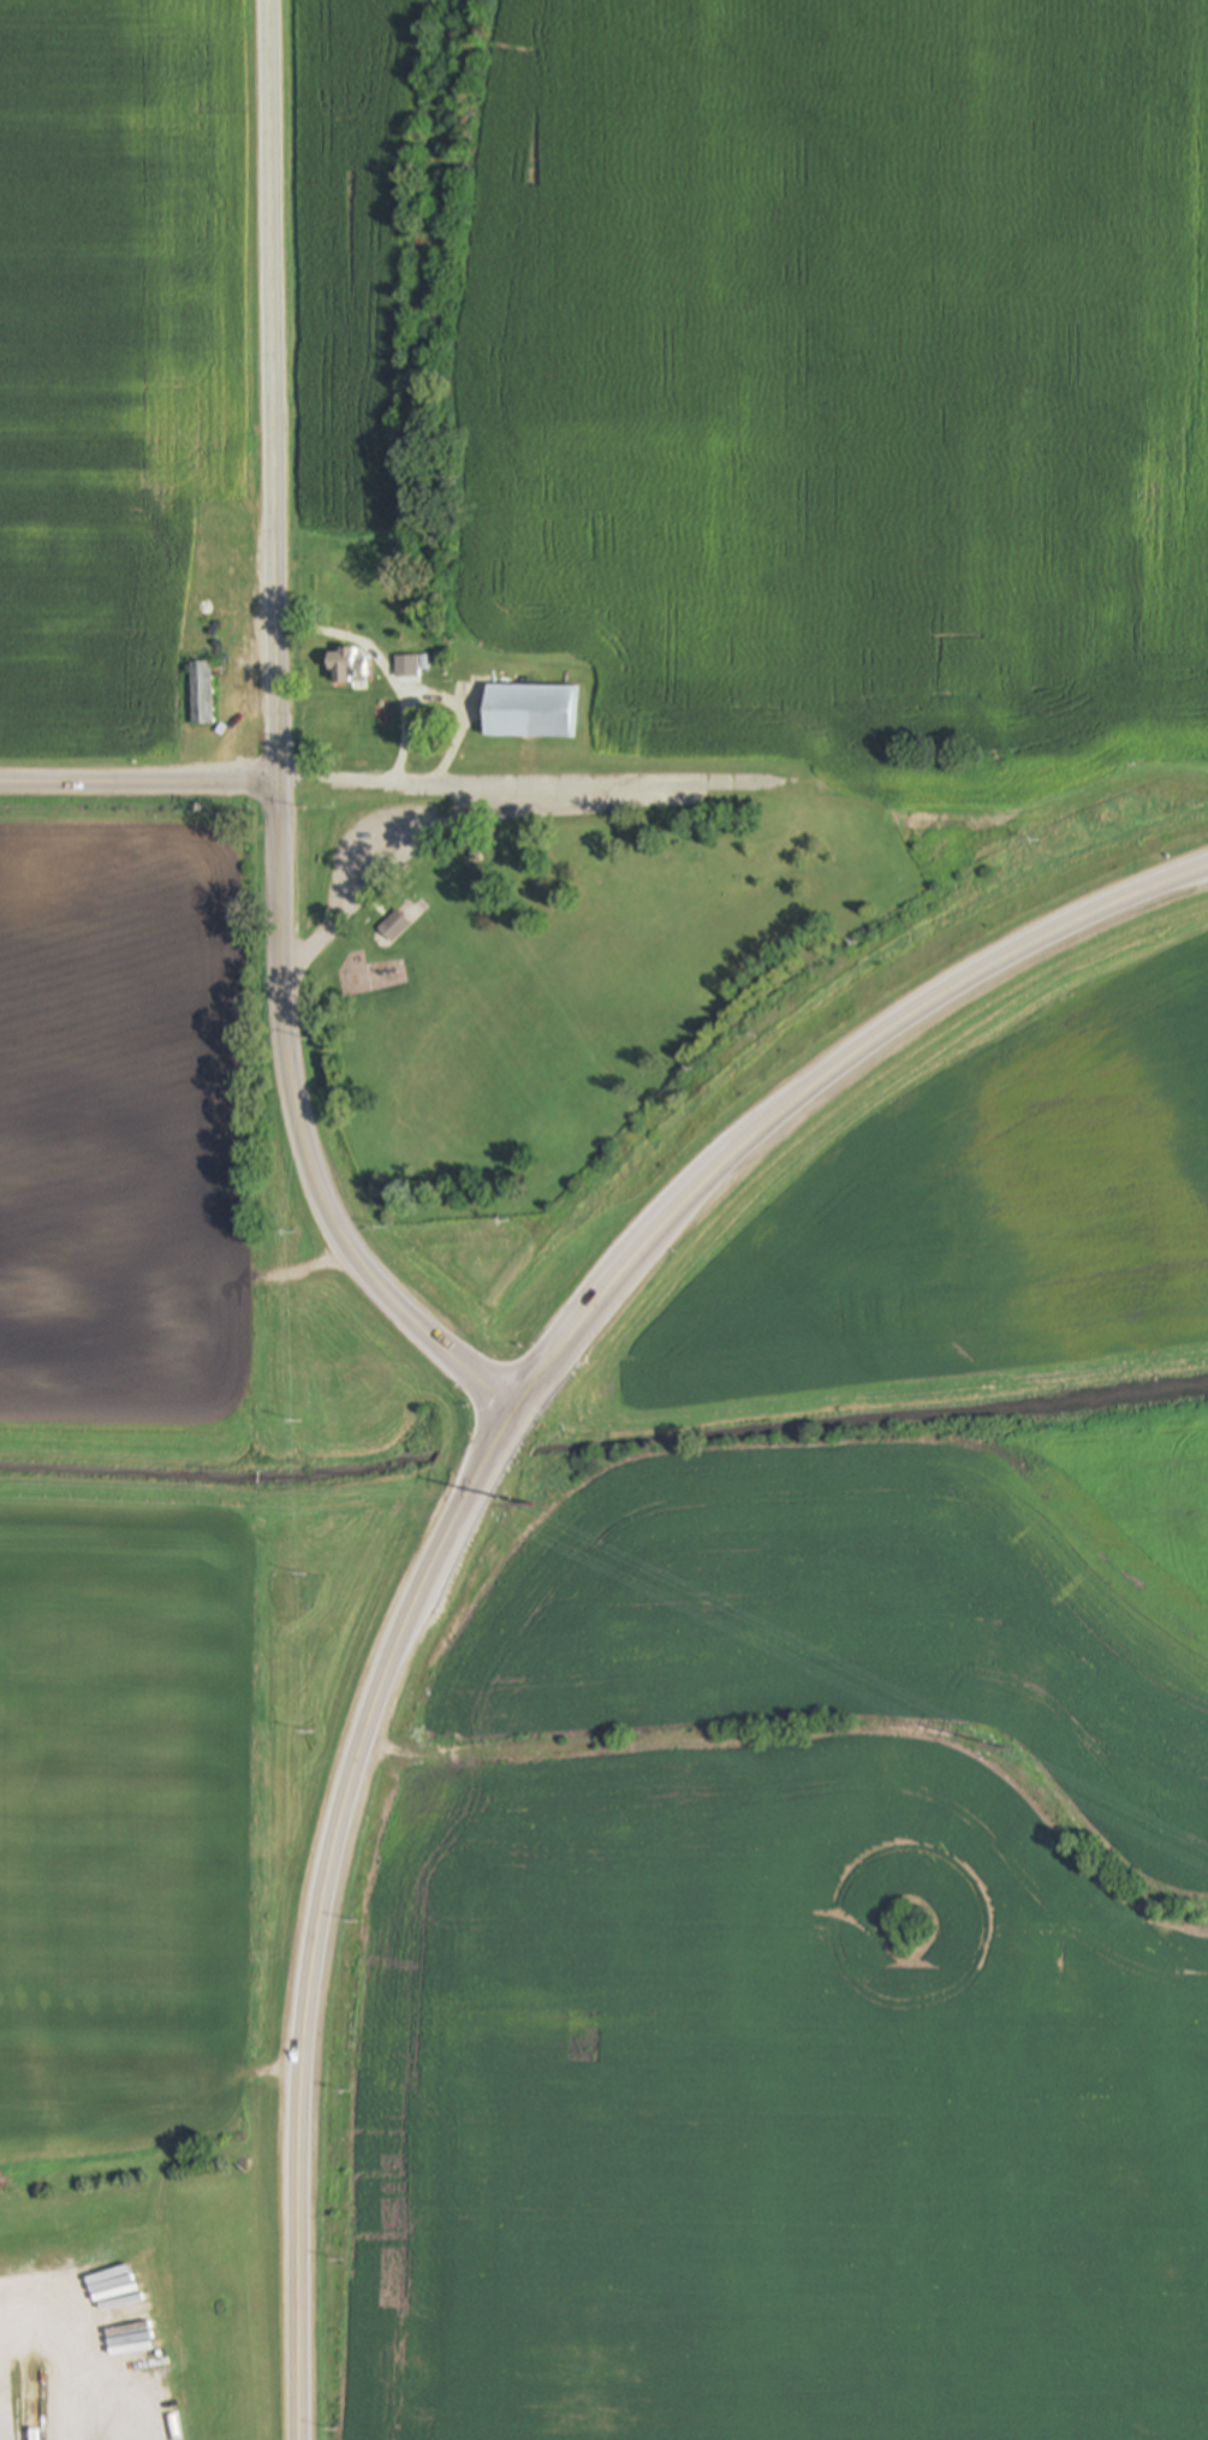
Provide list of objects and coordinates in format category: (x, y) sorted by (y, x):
building: (347, 666)
building: (406, 667)
road: (386, 670)
building: (202, 694)
building: (529, 712)
road: (459, 716)
road: (285, 748)
road: (532, 780)
road: (143, 784)
road: (353, 883)
building: (393, 926)
park: (553, 973)
road: (481, 1490)
power tower: (534, 1508)
power tower: (1008, 1750)
road: (81, 2359)

